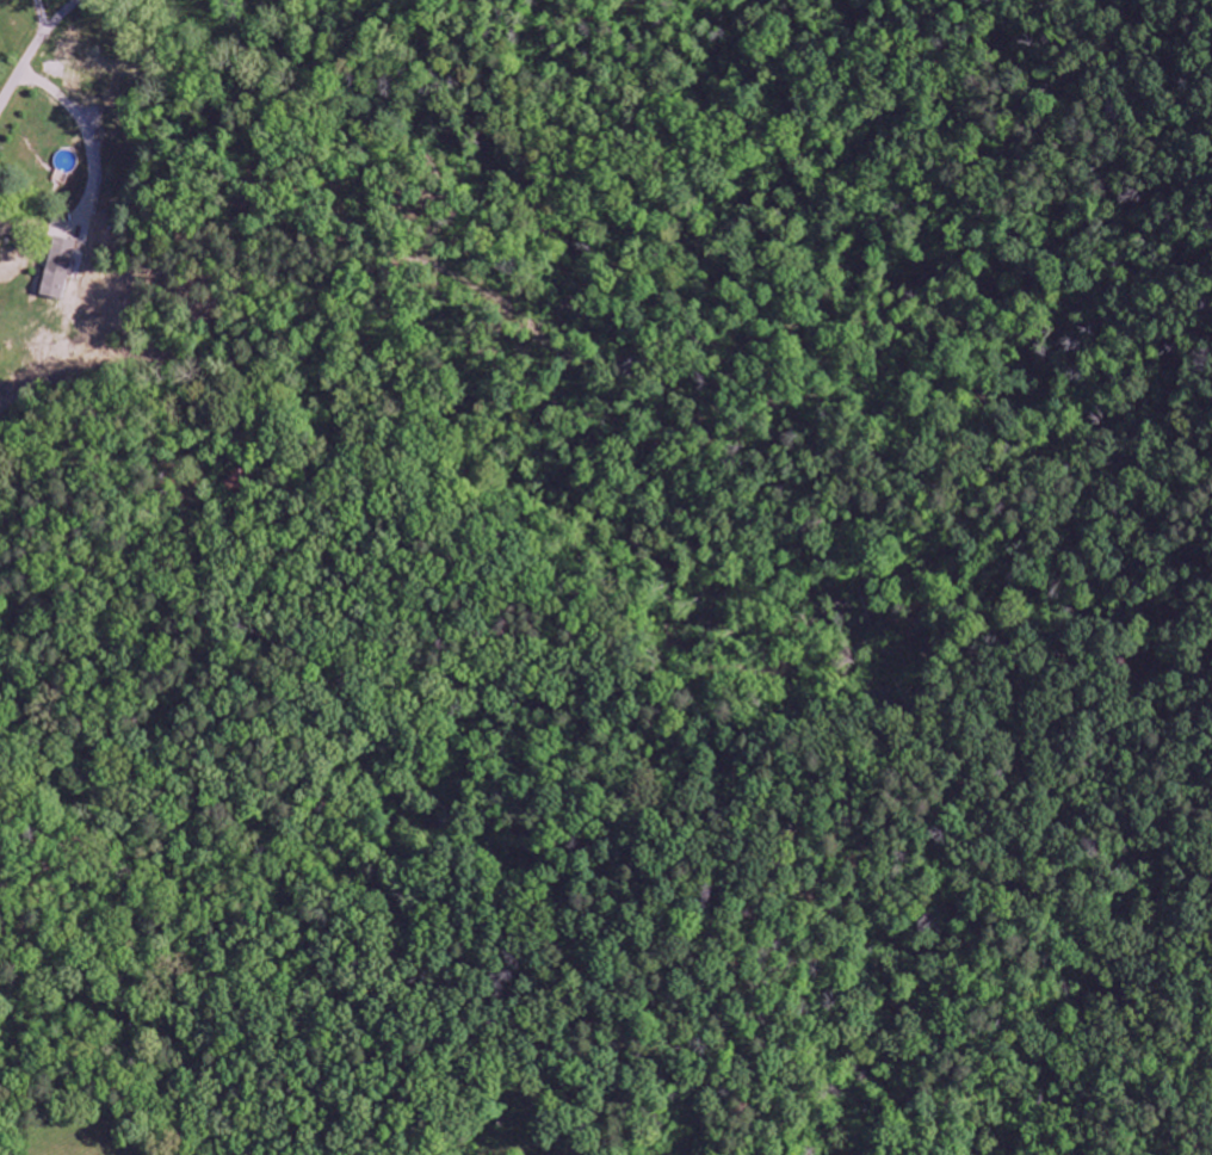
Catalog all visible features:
road: (42, 14)
road: (31, 47)
building: (56, 270)

